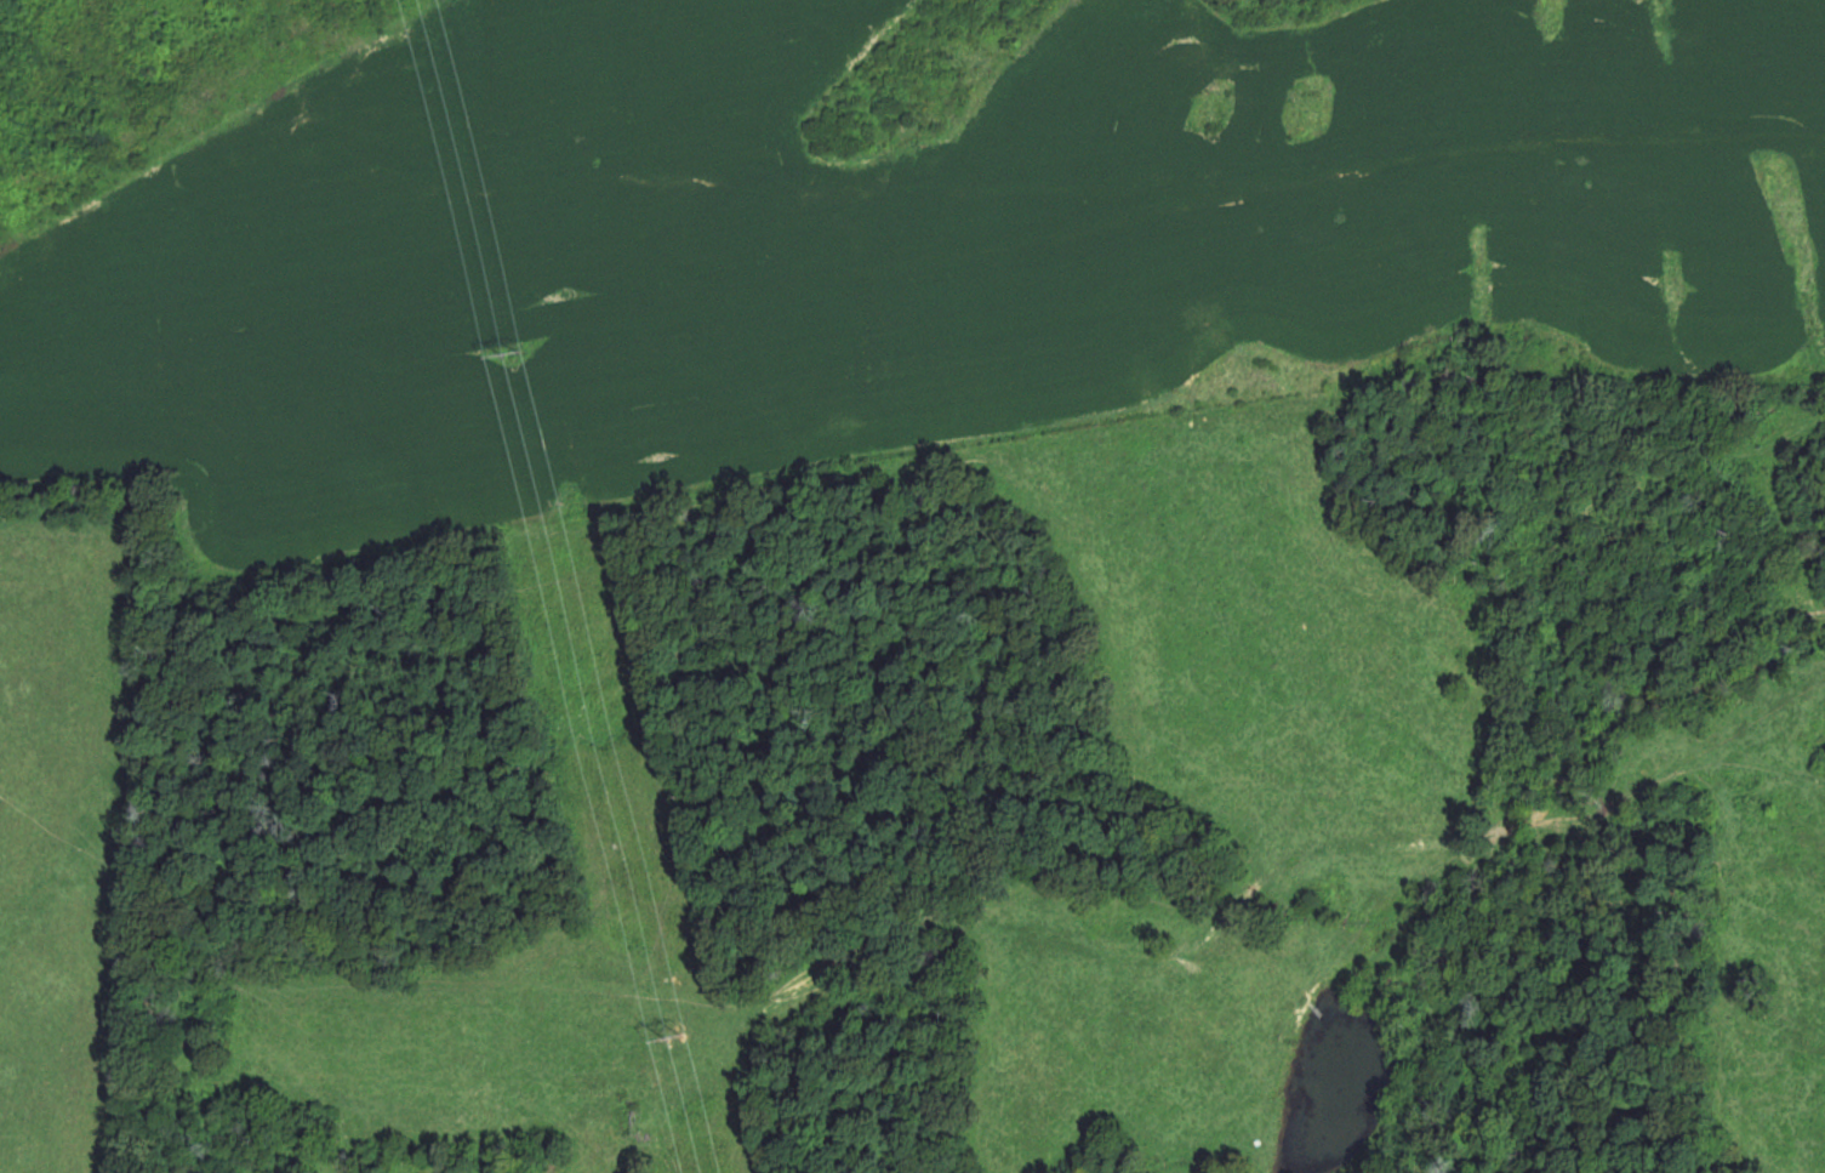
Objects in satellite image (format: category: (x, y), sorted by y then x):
power tower: (509, 352)
power tower: (677, 1041)

